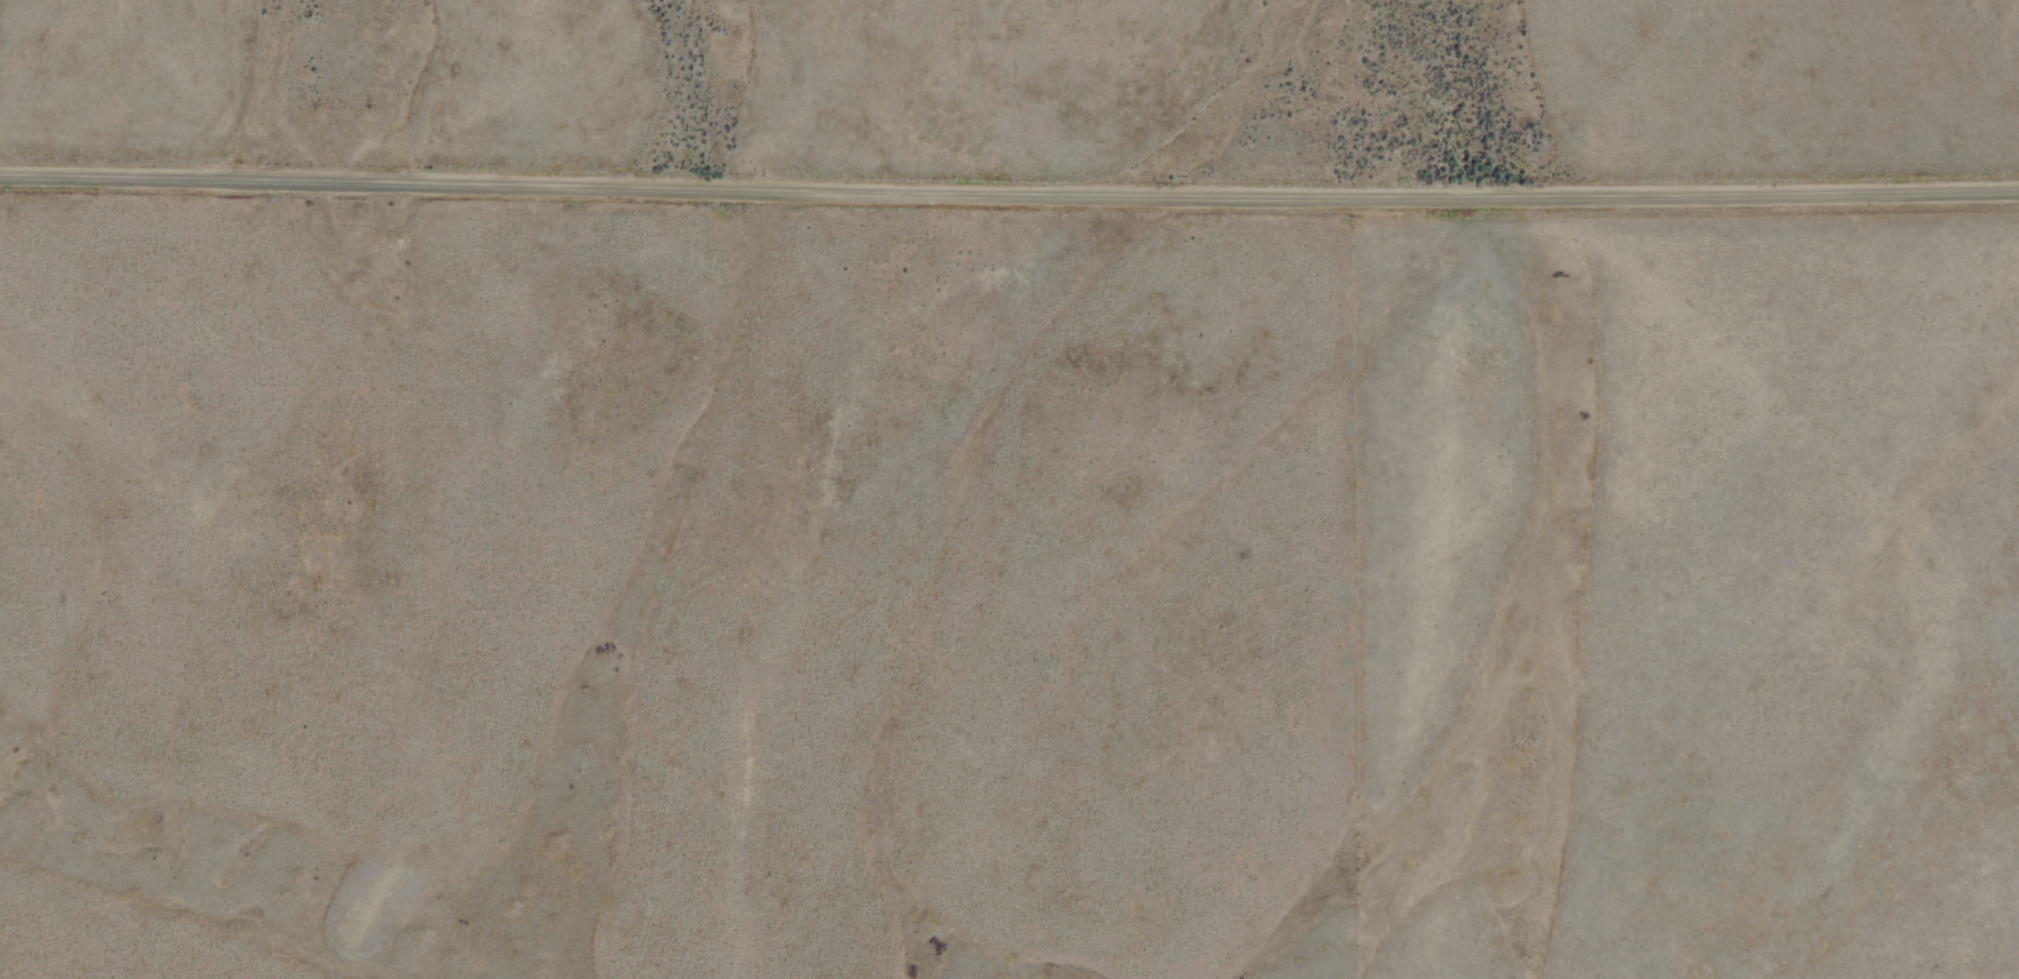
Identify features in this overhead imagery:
road: (1009, 195)

